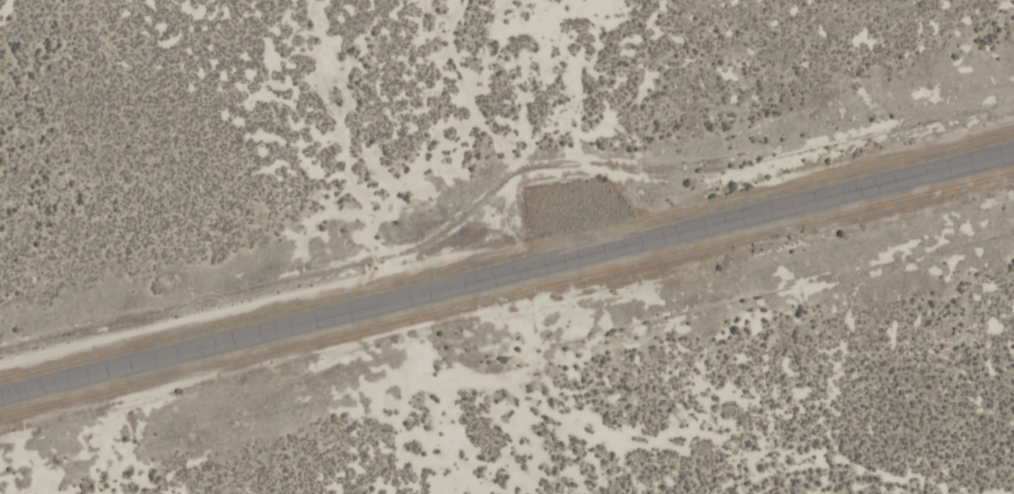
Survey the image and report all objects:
airport: (507, 247)
road: (507, 281)

